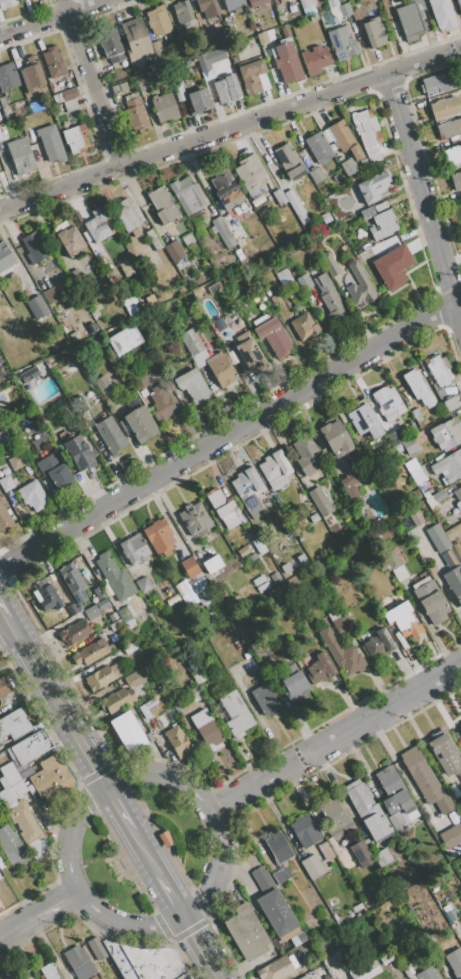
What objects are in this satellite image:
building: (23, 0)
building: (277, 0)
building: (281, 0)
building: (310, 2)
building: (256, 3)
building: (303, 3)
building: (332, 3)
building: (7, 4)
building: (232, 5)
building: (419, 5)
building: (459, 5)
building: (207, 8)
building: (278, 9)
building: (344, 10)
building: (308, 11)
building: (442, 14)
building: (185, 16)
building: (312, 17)
road: (54, 19)
building: (158, 21)
building: (409, 22)
building: (245, 30)
building: (284, 30)
building: (373, 32)
building: (269, 35)
building: (261, 37)
building: (135, 39)
building: (179, 39)
building: (342, 43)
building: (110, 46)
building: (156, 47)
building: (315, 59)
building: (286, 61)
building: (53, 62)
building: (152, 65)
building: (30, 74)
building: (251, 75)
building: (7, 77)
building: (263, 81)
road: (93, 83)
building: (140, 83)
building: (437, 83)
building: (119, 87)
building: (226, 90)
building: (179, 92)
building: (69, 94)
building: (57, 98)
building: (198, 101)
building: (3, 102)
building: (69, 105)
building: (165, 107)
building: (445, 108)
building: (135, 113)
building: (449, 128)
road: (230, 130)
building: (367, 133)
building: (326, 135)
building: (0, 136)
building: (75, 138)
building: (343, 139)
building: (51, 145)
building: (318, 147)
building: (20, 155)
building: (453, 155)
building: (289, 162)
building: (347, 168)
building: (249, 174)
building: (456, 180)
building: (224, 187)
building: (372, 187)
building: (185, 195)
road: (424, 196)
building: (278, 197)
building: (162, 205)
building: (296, 206)
building: (381, 207)
building: (126, 215)
building: (325, 216)
building: (382, 224)
building: (96, 225)
building: (213, 230)
building: (223, 232)
building: (357, 233)
building: (86, 236)
building: (152, 239)
building: (187, 239)
building: (70, 240)
building: (192, 247)
building: (378, 247)
building: (34, 248)
building: (173, 251)
building: (4, 258)
building: (329, 264)
building: (178, 265)
building: (393, 266)
building: (126, 268)
building: (73, 275)
building: (283, 276)
building: (303, 281)
building: (358, 286)
building: (213, 287)
building: (51, 294)
building: (273, 298)
building: (329, 299)
building: (35, 307)
building: (237, 324)
building: (303, 326)
building: (0, 331)
building: (272, 335)
building: (22, 338)
building: (124, 340)
building: (191, 342)
building: (248, 352)
building: (200, 358)
building: (221, 368)
building: (439, 370)
building: (28, 374)
building: (415, 384)
building: (103, 386)
building: (192, 388)
building: (161, 403)
building: (387, 403)
building: (448, 405)
building: (417, 415)
building: (363, 421)
building: (138, 424)
building: (446, 434)
building: (110, 435)
building: (334, 436)
building: (4, 437)
road: (228, 437)
building: (41, 441)
building: (409, 446)
building: (79, 452)
building: (306, 455)
building: (16, 462)
building: (412, 464)
building: (448, 466)
building: (275, 469)
building: (55, 471)
building: (418, 476)
building: (6, 482)
building: (349, 486)
building: (424, 487)
building: (248, 490)
building: (457, 493)
building: (425, 494)
building: (32, 495)
building: (436, 497)
building: (320, 500)
building: (222, 507)
building: (414, 514)
building: (313, 518)
building: (4, 519)
building: (194, 519)
building: (159, 537)
building: (437, 537)
building: (258, 546)
building: (133, 550)
building: (242, 551)
building: (252, 556)
building: (301, 558)
building: (392, 561)
building: (212, 564)
building: (189, 567)
building: (285, 568)
building: (399, 573)
building: (115, 577)
building: (72, 582)
building: (454, 584)
building: (143, 585)
building: (198, 586)
building: (183, 588)
building: (96, 594)
building: (47, 595)
building: (204, 596)
building: (189, 599)
building: (430, 600)
building: (173, 601)
building: (71, 609)
building: (79, 609)
road: (3, 611)
building: (90, 611)
building: (65, 614)
building: (333, 615)
building: (126, 616)
building: (403, 620)
building: (339, 623)
building: (115, 625)
road: (14, 629)
building: (74, 632)
road: (10, 637)
building: (384, 639)
building: (374, 647)
building: (128, 648)
building: (91, 652)
building: (342, 654)
building: (319, 668)
building: (197, 676)
building: (99, 678)
building: (135, 678)
building: (295, 684)
building: (4, 686)
building: (170, 696)
building: (264, 699)
building: (117, 701)
building: (177, 707)
road: (64, 712)
building: (144, 712)
building: (235, 714)
building: (14, 724)
building: (460, 726)
building: (206, 728)
building: (127, 731)
building: (149, 736)
road: (336, 736)
building: (177, 742)
building: (28, 747)
building: (445, 755)
building: (25, 772)
building: (49, 773)
building: (420, 775)
building: (11, 776)
building: (460, 776)
building: (387, 779)
building: (3, 782)
road: (106, 785)
building: (457, 789)
building: (15, 793)
building: (6, 797)
building: (443, 804)
building: (400, 805)
road: (121, 806)
building: (433, 809)
building: (367, 810)
building: (333, 817)
building: (396, 820)
building: (27, 828)
building: (305, 831)
building: (451, 836)
building: (277, 846)
building: (12, 848)
park: (148, 848)
road: (146, 851)
building: (325, 851)
building: (360, 853)
building: (382, 857)
building: (343, 862)
building: (312, 866)
building: (281, 875)
building: (0, 879)
building: (460, 895)
road: (172, 896)
road: (57, 902)
building: (274, 906)
building: (449, 919)
road: (17, 925)
building: (456, 931)
building: (246, 932)
building: (300, 936)
building: (96, 947)
road: (202, 948)
building: (400, 954)
building: (385, 958)
building: (120, 960)
building: (454, 961)
building: (78, 962)
building: (153, 962)
building: (275, 969)
building: (407, 969)
building: (365, 971)
building: (48, 972)
building: (427, 974)
building: (184, 976)
building: (93, 977)
building: (303, 977)
building: (329, 978)

